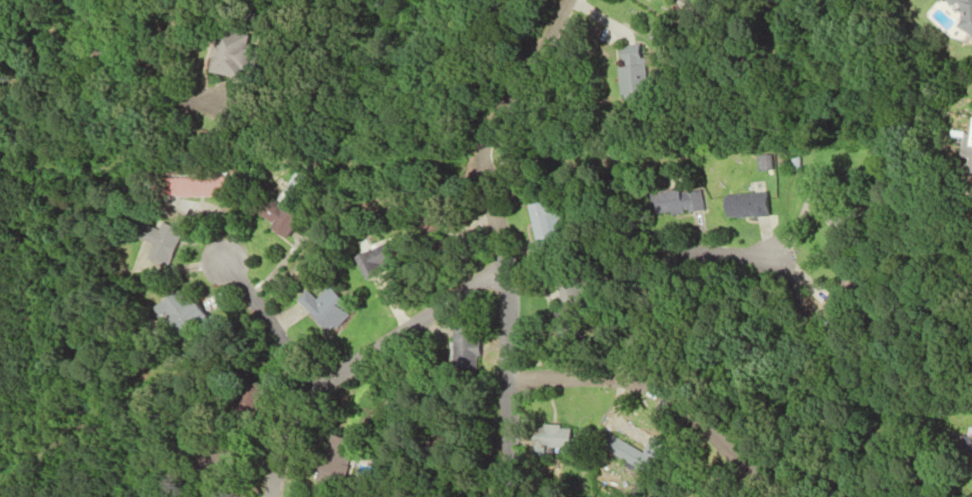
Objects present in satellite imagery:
building: (962, 13)
road: (85, 35)
building: (227, 53)
building: (626, 72)
road: (489, 124)
road: (957, 124)
building: (969, 132)
building: (759, 161)
building: (971, 169)
building: (189, 185)
building: (669, 200)
building: (738, 204)
building: (268, 212)
building: (828, 213)
building: (540, 225)
building: (154, 242)
road: (663, 263)
building: (560, 305)
building: (317, 308)
road: (263, 321)
building: (463, 346)
road: (356, 357)
road: (503, 380)
road: (654, 392)
building: (547, 436)
building: (966, 441)
building: (616, 449)
building: (327, 465)

